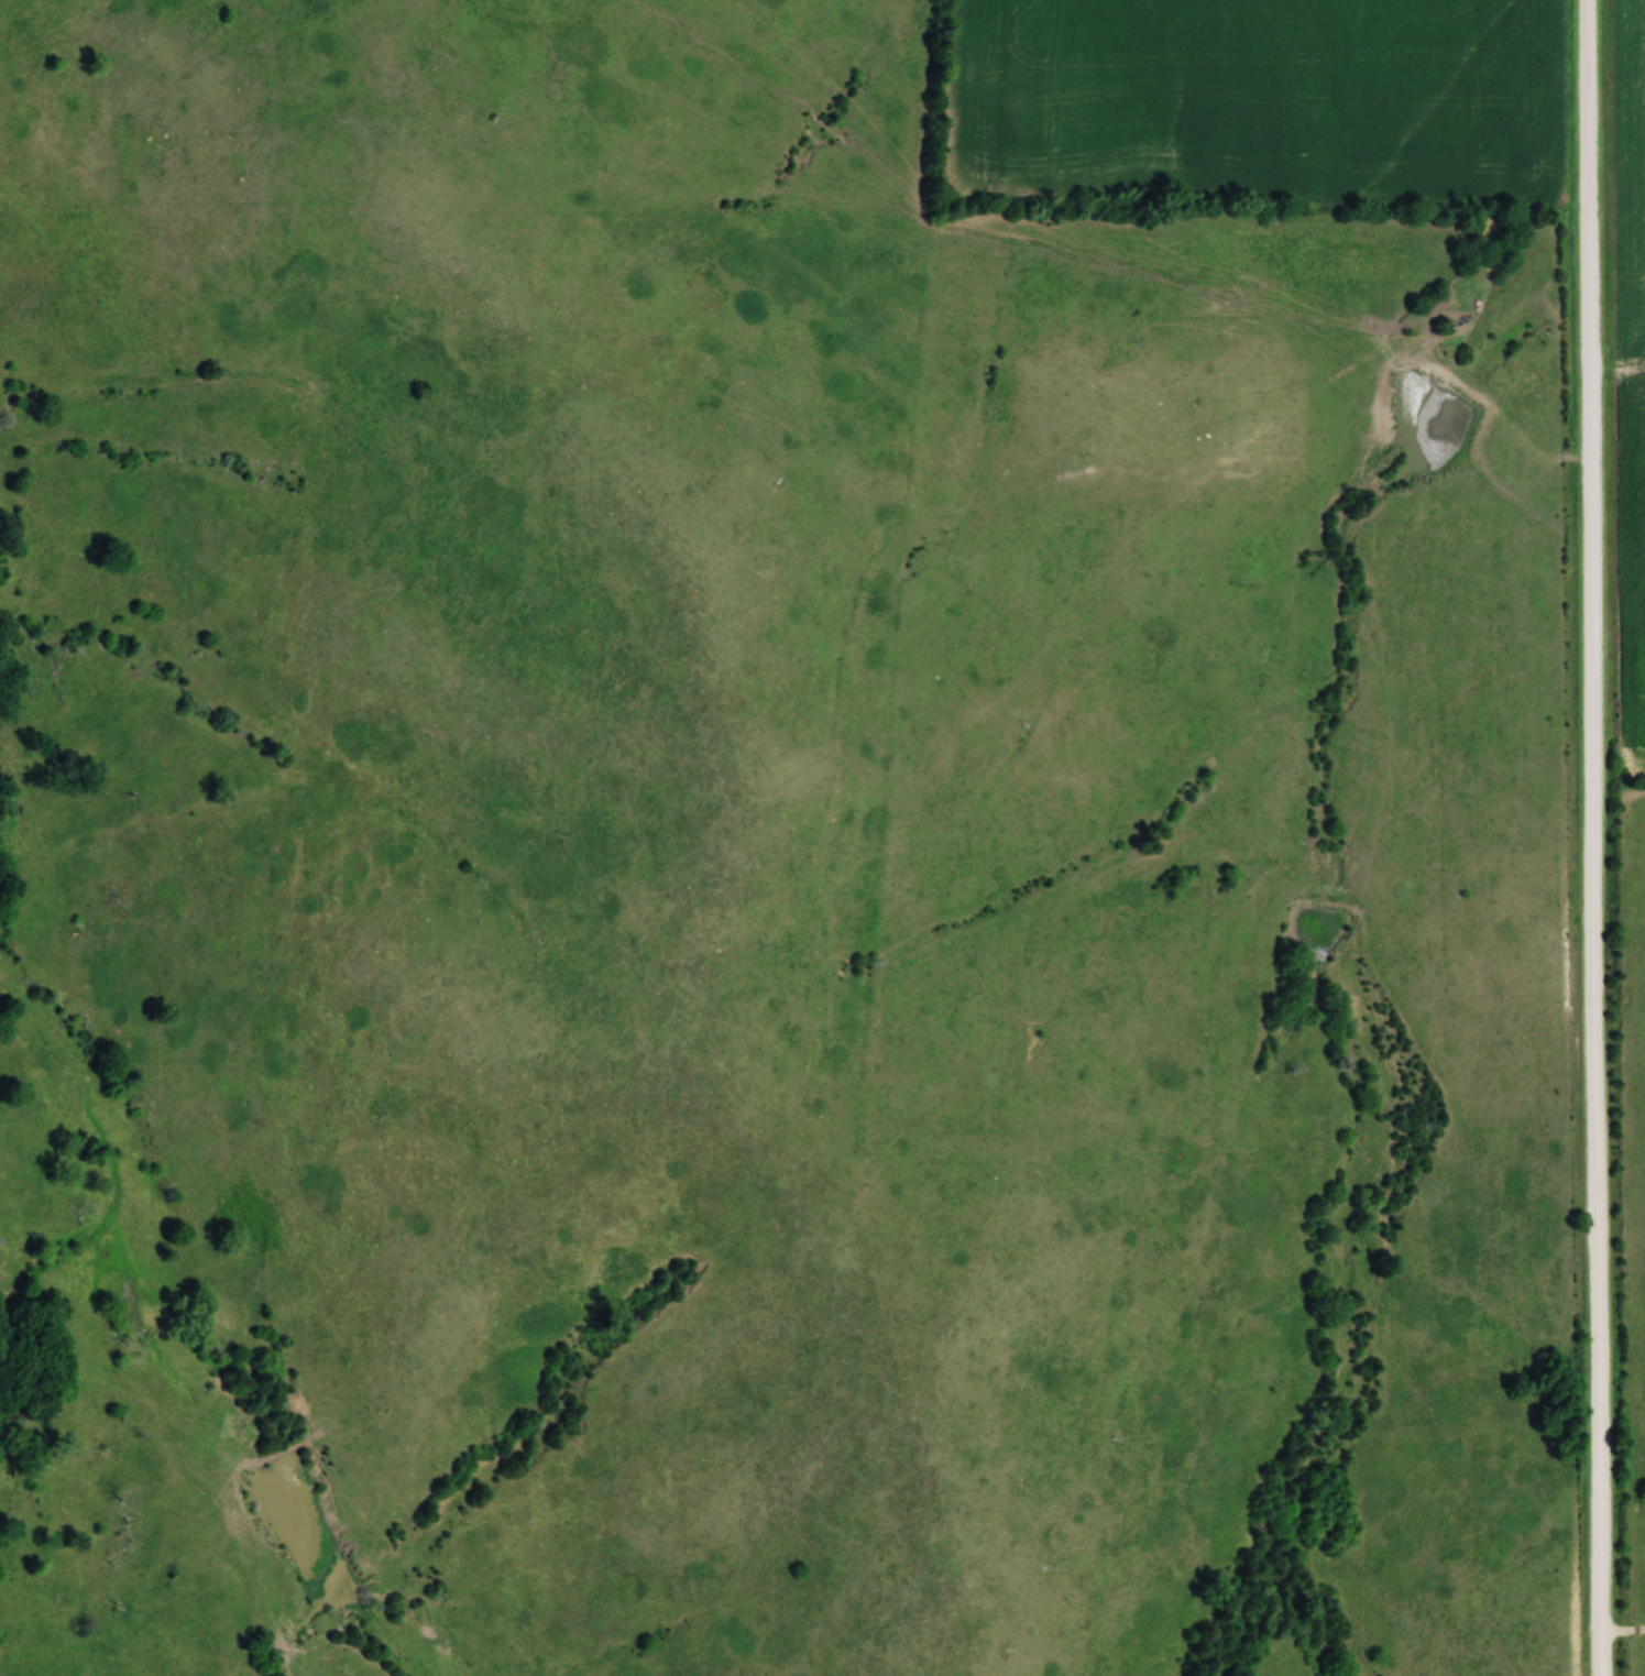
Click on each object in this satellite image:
road: (1593, 837)

